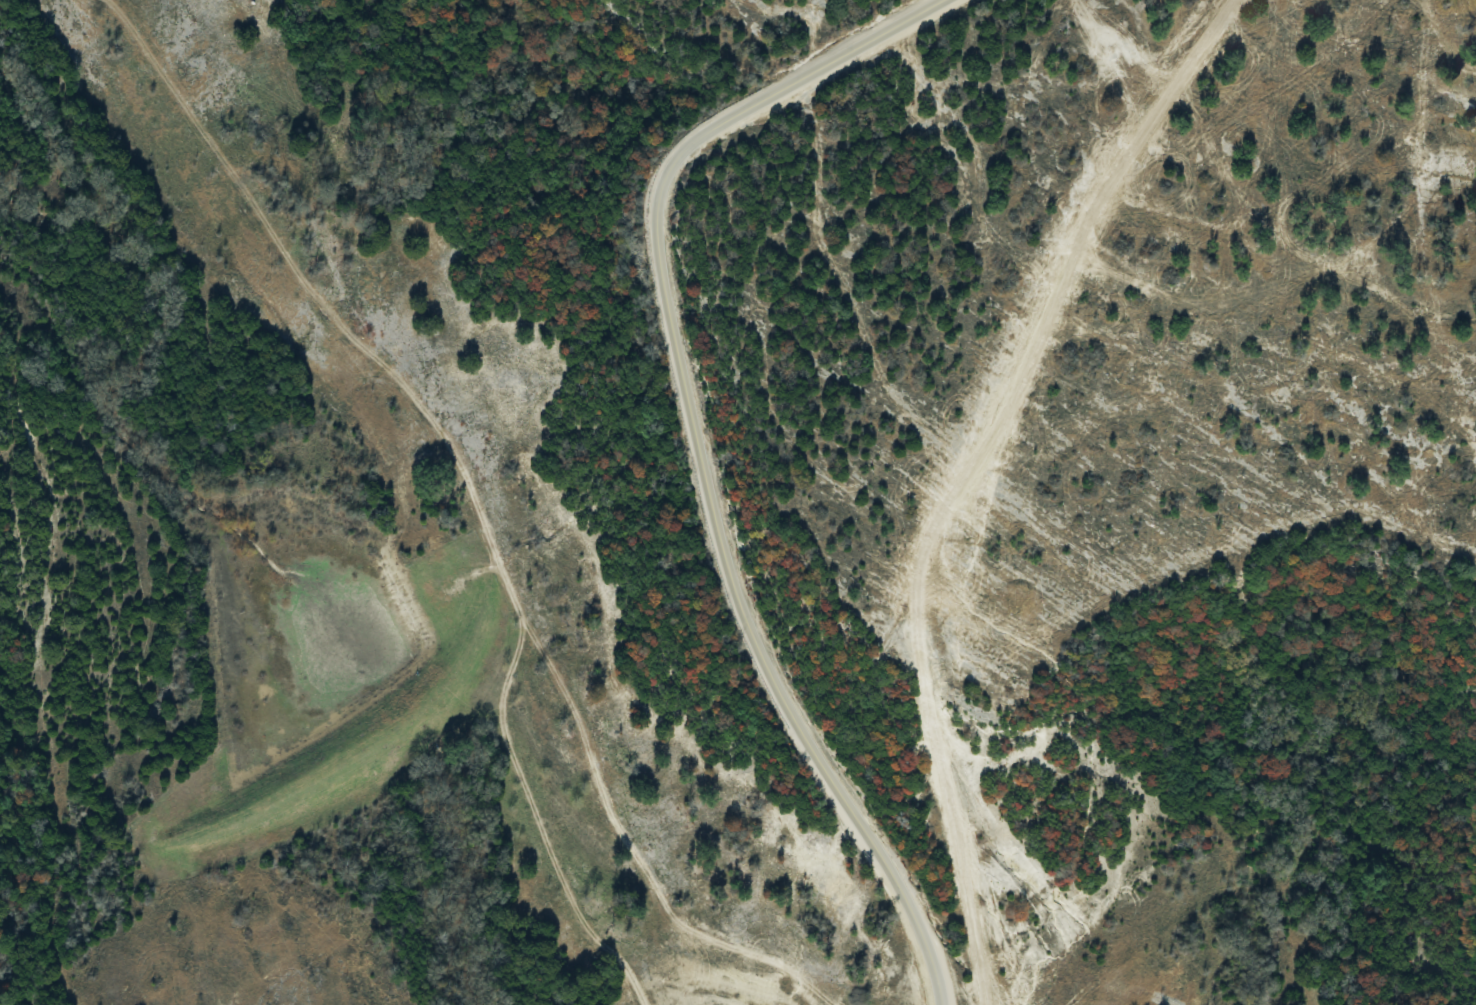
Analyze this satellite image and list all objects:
road: (702, 449)
road: (958, 473)

